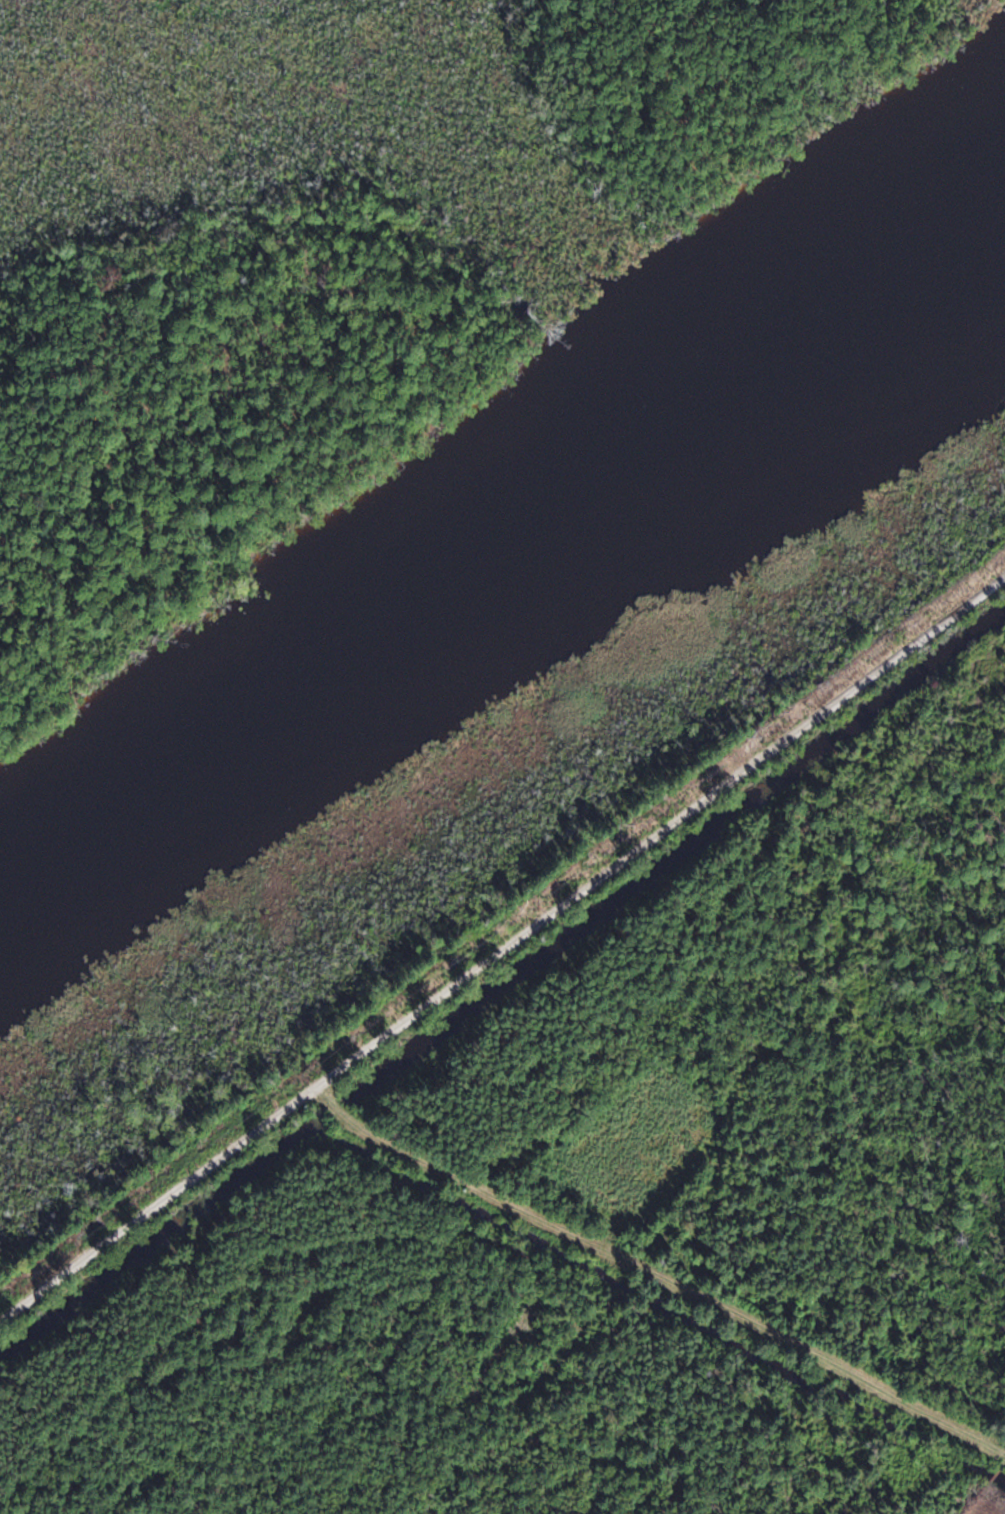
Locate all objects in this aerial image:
road: (639, 825)
road: (144, 1207)
road: (639, 1311)

